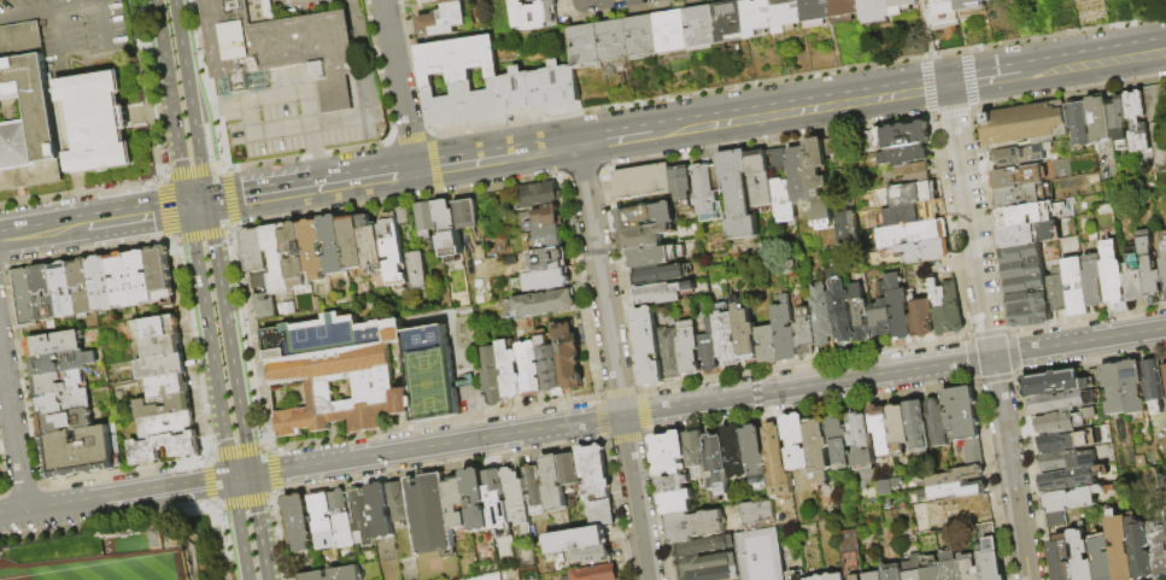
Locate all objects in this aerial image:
road: (100, 0)
road: (153, 0)
road: (294, 0)
building: (412, 0)
building: (418, 0)
building: (990, 0)
building: (450, 1)
building: (968, 4)
building: (901, 6)
road: (49, 7)
building: (873, 8)
building: (844, 11)
building: (942, 11)
building: (815, 13)
building: (533, 14)
building: (786, 14)
building: (757, 17)
building: (443, 20)
building: (730, 22)
road: (105, 27)
building: (701, 27)
road: (60, 29)
building: (672, 30)
building: (643, 36)
building: (614, 40)
building: (585, 46)
building: (276, 49)
road: (181, 54)
road: (1092, 60)
road: (924, 64)
road: (984, 78)
building: (459, 80)
road: (398, 84)
building: (556, 86)
road: (938, 86)
building: (517, 92)
road: (279, 95)
road: (170, 104)
road: (219, 105)
road: (813, 105)
building: (40, 111)
building: (1100, 118)
building: (1119, 118)
road: (355, 119)
building: (1138, 121)
building: (1158, 121)
building: (95, 122)
building: (1080, 123)
building: (1026, 124)
road: (675, 128)
building: (900, 136)
road: (615, 137)
road: (315, 139)
road: (547, 148)
road: (213, 152)
building: (904, 154)
building: (780, 156)
road: (198, 157)
building: (1014, 157)
road: (210, 162)
road: (467, 162)
road: (191, 170)
building: (912, 174)
building: (799, 175)
road: (376, 176)
building: (1018, 176)
building: (761, 178)
building: (644, 181)
building: (820, 181)
building: (684, 186)
building: (705, 189)
road: (78, 193)
road: (271, 193)
building: (909, 193)
building: (739, 194)
building: (539, 195)
building: (1018, 197)
road: (228, 198)
traffic signals: (206, 204)
road: (197, 205)
traffic signals: (187, 207)
road: (162, 210)
building: (919, 212)
building: (1030, 213)
road: (136, 215)
building: (404, 215)
building: (468, 215)
building: (645, 216)
building: (427, 217)
building: (545, 218)
road: (43, 229)
building: (450, 229)
building: (910, 233)
building: (1030, 234)
road: (201, 236)
building: (643, 236)
building: (546, 239)
building: (353, 244)
building: (373, 244)
building: (334, 245)
building: (393, 247)
building: (314, 248)
building: (254, 250)
building: (920, 251)
building: (295, 254)
building: (656, 256)
building: (1162, 256)
building: (277, 259)
building: (550, 259)
building: (1023, 263)
building: (1148, 266)
building: (415, 269)
building: (660, 274)
building: (1112, 274)
building: (160, 275)
building: (1135, 276)
building: (140, 277)
building: (121, 280)
building: (257, 280)
building: (543, 281)
building: (1094, 282)
building: (102, 285)
building: (83, 287)
building: (1076, 287)
building: (64, 291)
building: (1055, 291)
building: (45, 292)
building: (662, 293)
building: (25, 298)
building: (1029, 303)
building: (541, 304)
building: (947, 307)
building: (898, 309)
building: (842, 312)
building: (821, 314)
building: (883, 315)
building: (861, 316)
building: (921, 318)
building: (156, 327)
building: (785, 329)
road: (989, 332)
building: (745, 333)
building: (805, 333)
road: (227, 340)
building: (726, 340)
road: (209, 342)
road: (1079, 342)
building: (54, 344)
building: (767, 344)
building: (162, 346)
building: (649, 346)
building: (690, 347)
building: (709, 347)
building: (670, 352)
building: (568, 357)
building: (61, 362)
road: (613, 362)
building: (550, 365)
building: (160, 367)
building: (531, 369)
building: (1165, 370)
building: (359, 371)
building: (509, 373)
building: (492, 376)
building: (58, 382)
building: (1055, 382)
building: (1154, 385)
building: (168, 386)
road: (808, 386)
building: (1132, 387)
building: (1114, 388)
building: (63, 402)
building: (1064, 402)
building: (163, 406)
building: (962, 412)
building: (1065, 421)
building: (64, 422)
building: (938, 422)
building: (166, 424)
building: (919, 427)
building: (900, 428)
building: (883, 429)
road: (13, 430)
building: (1067, 440)
building: (797, 441)
building: (839, 443)
building: (862, 443)
road: (435, 446)
building: (184, 449)
building: (755, 450)
building: (819, 450)
road: (240, 451)
building: (736, 451)
building: (77, 452)
building: (697, 453)
building: (777, 459)
building: (1068, 461)
building: (717, 462)
building: (594, 470)
building: (674, 471)
road: (275, 473)
traffic signals: (250, 476)
road: (240, 478)
building: (559, 479)
building: (1068, 479)
traffic signals: (230, 480)
road: (211, 482)
building: (957, 484)
building: (494, 486)
building: (535, 490)
road: (128, 496)
building: (516, 497)
building: (477, 500)
building: (456, 502)
road: (246, 503)
building: (399, 503)
building: (1067, 504)
building: (965, 505)
road: (213, 506)
building: (381, 511)
building: (755, 511)
building: (602, 512)
road: (13, 514)
building: (321, 514)
building: (429, 514)
building: (363, 519)
building: (341, 520)
building: (299, 521)
building: (919, 522)
road: (107, 525)
building: (695, 525)
road: (257, 528)
road: (239, 529)
building: (578, 540)
road: (224, 541)
building: (1120, 546)
building: (1139, 549)
building: (1159, 551)
building: (990, 552)
building: (594, 555)
building: (761, 555)
building: (851, 555)
building: (1082, 555)
building: (1102, 558)
building: (708, 560)
building: (1061, 560)
park: (82, 562)
building: (913, 566)
building: (950, 566)
building: (969, 568)
building: (892, 572)
building: (596, 573)
building: (933, 573)
building: (335, 574)
building: (795, 575)
building: (874, 575)
building: (480, 576)
building: (836, 576)
building: (819, 578)

